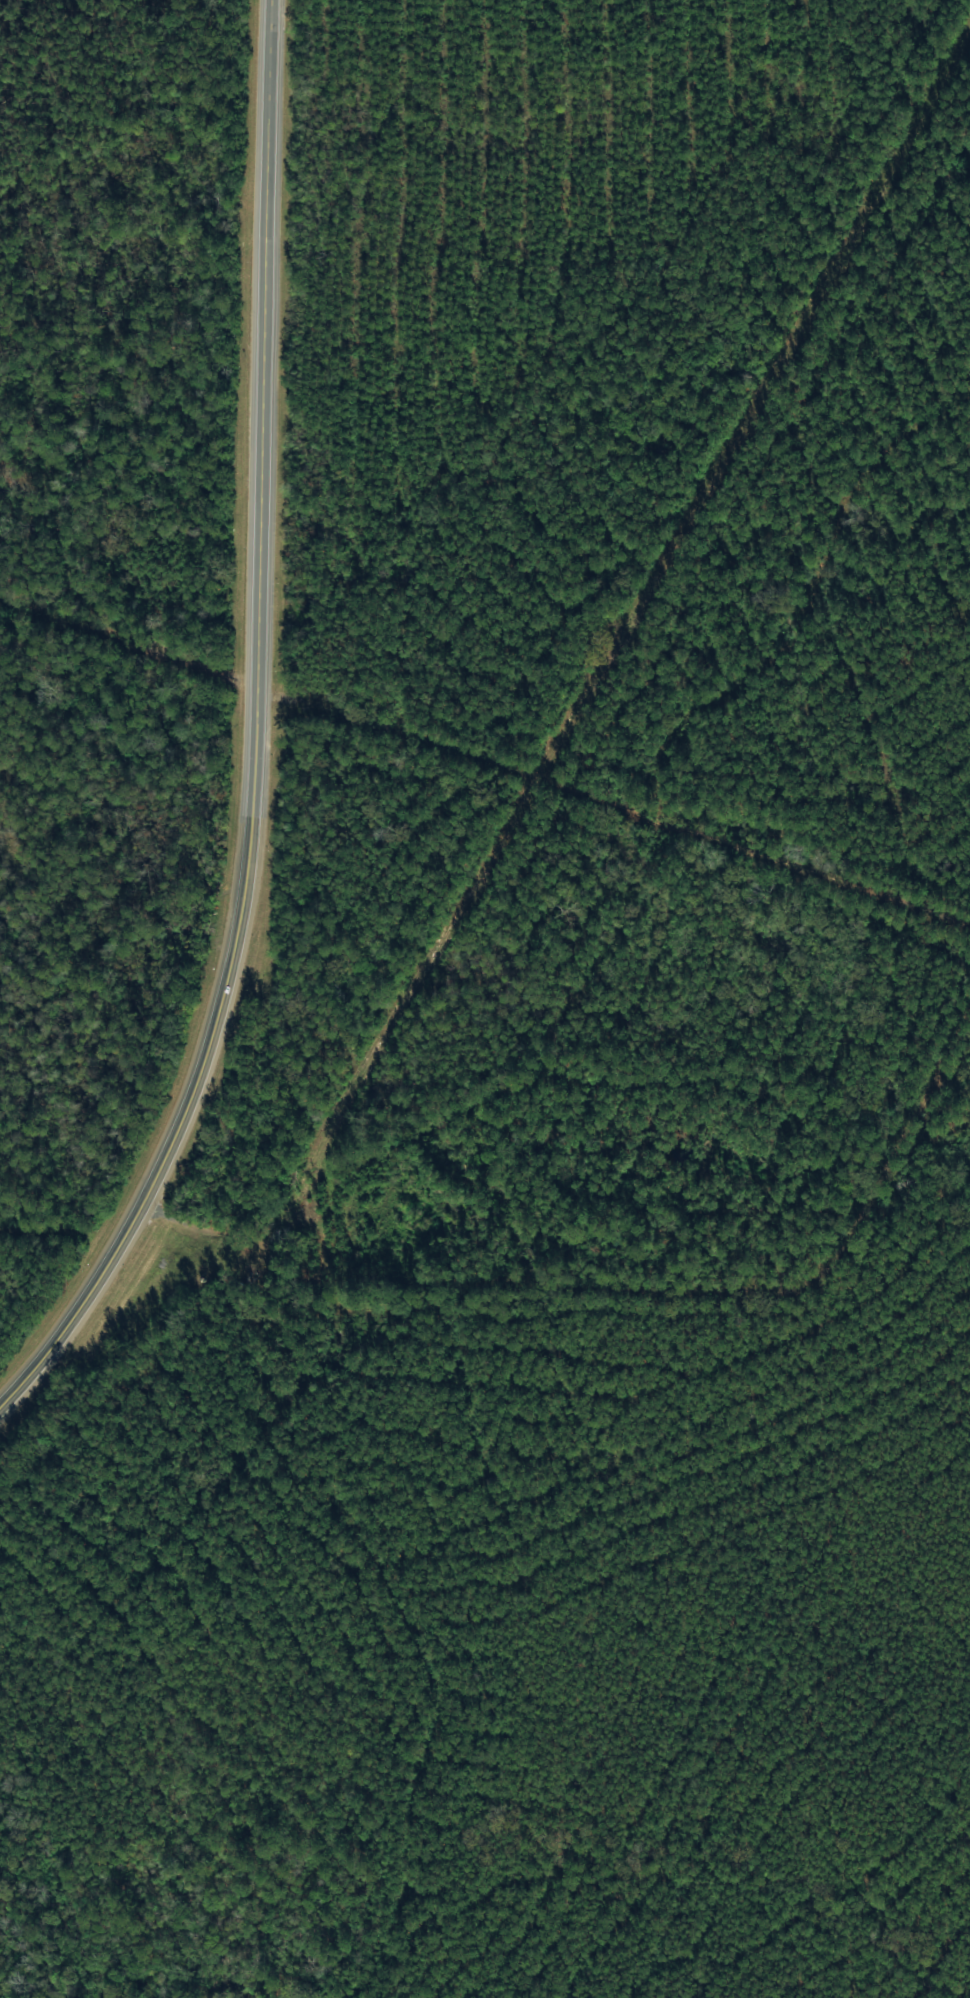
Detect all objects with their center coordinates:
road: (263, 741)

